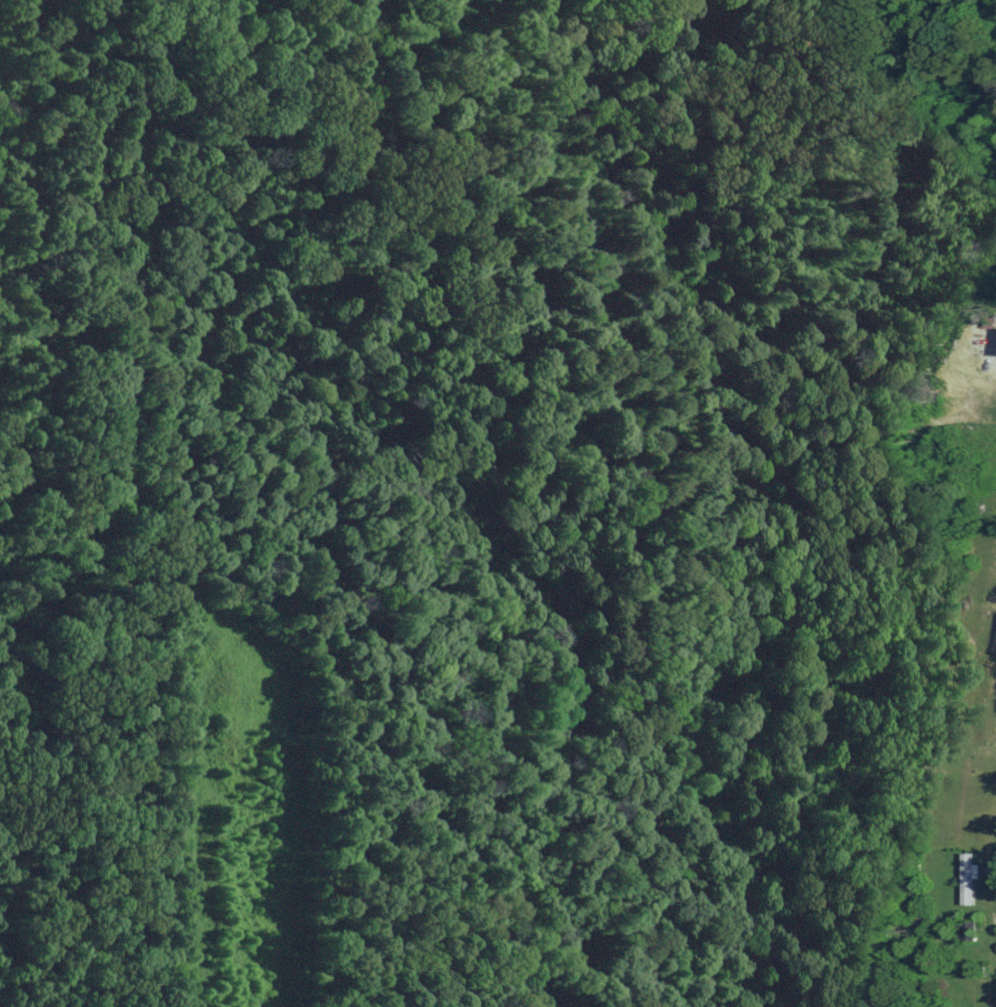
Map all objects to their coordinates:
building: (994, 647)

